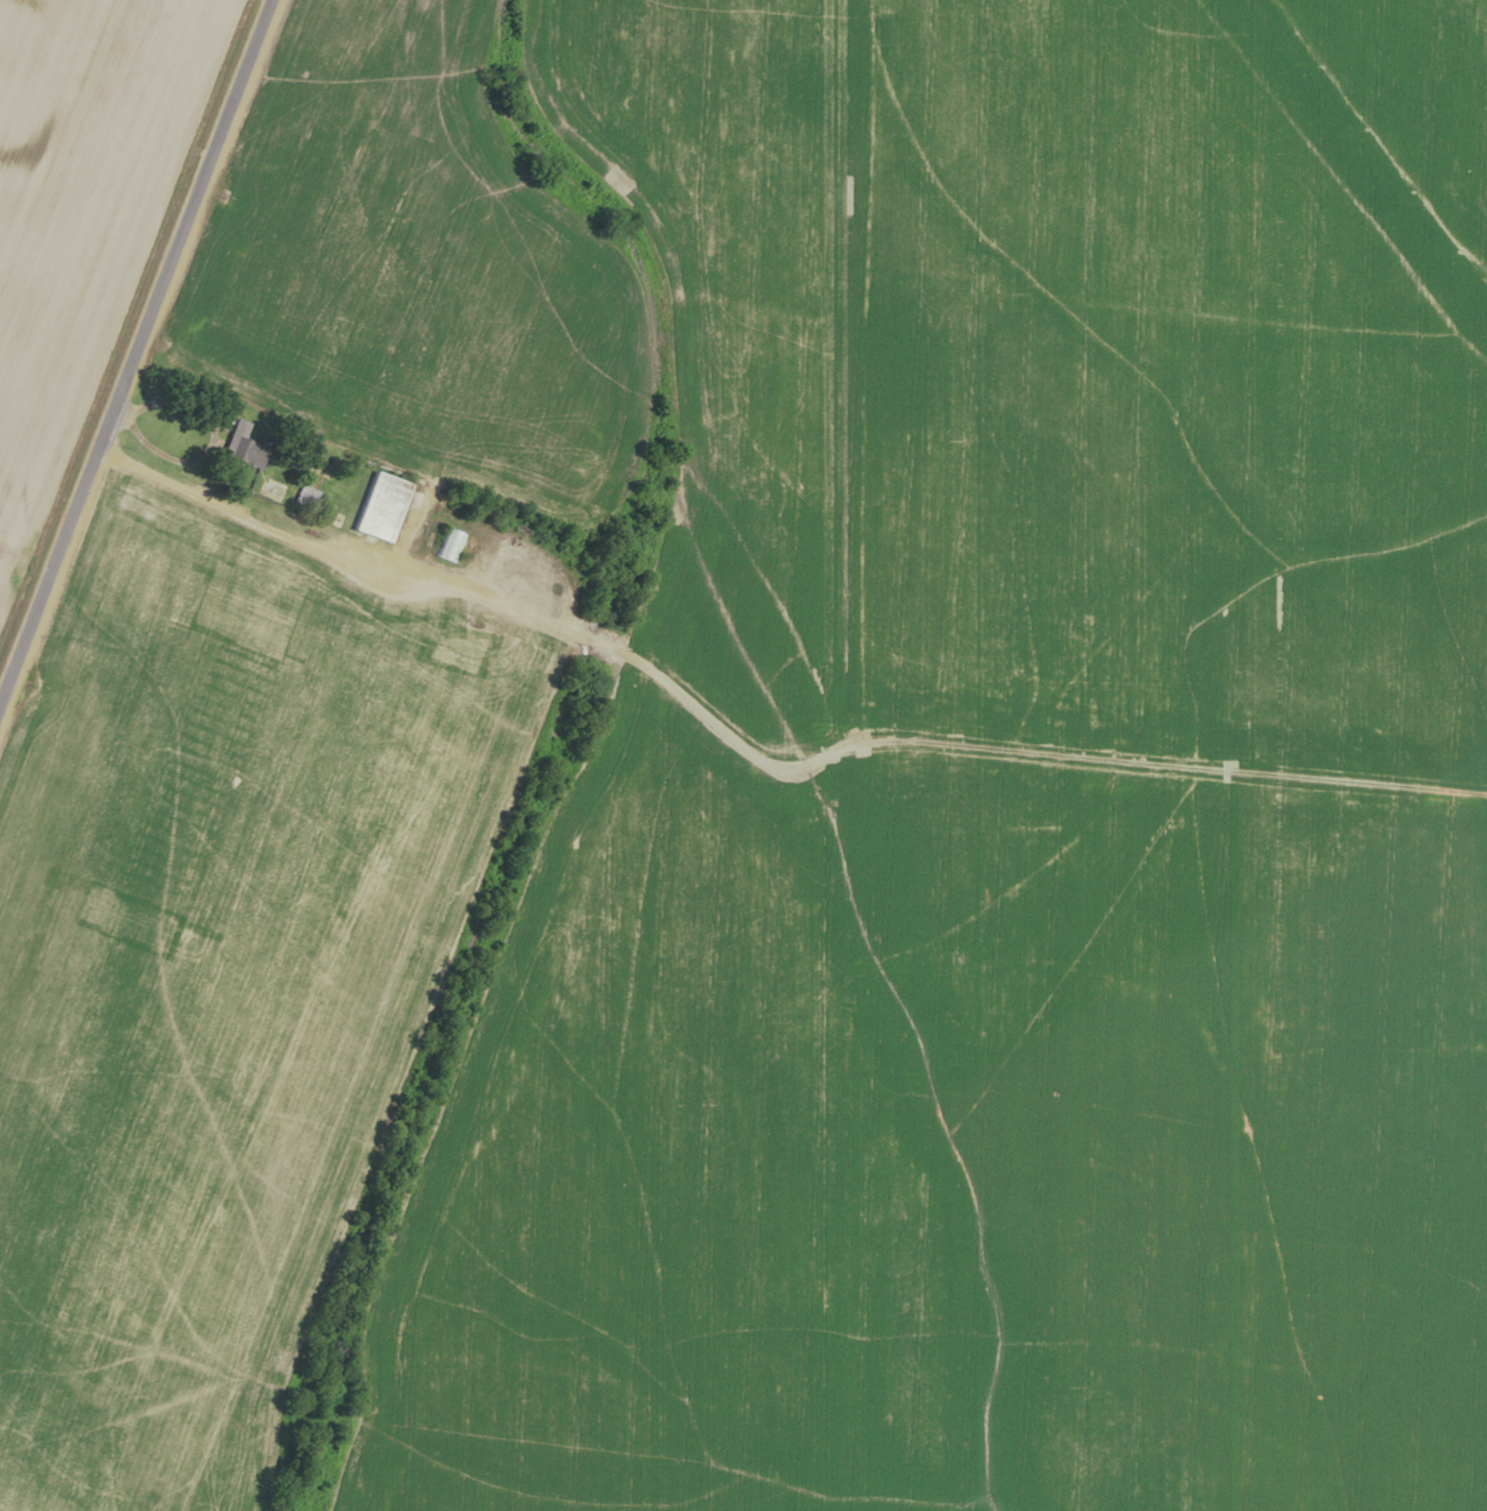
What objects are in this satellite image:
road: (135, 352)
building: (245, 451)
building: (269, 490)
building: (310, 497)
building: (450, 545)

